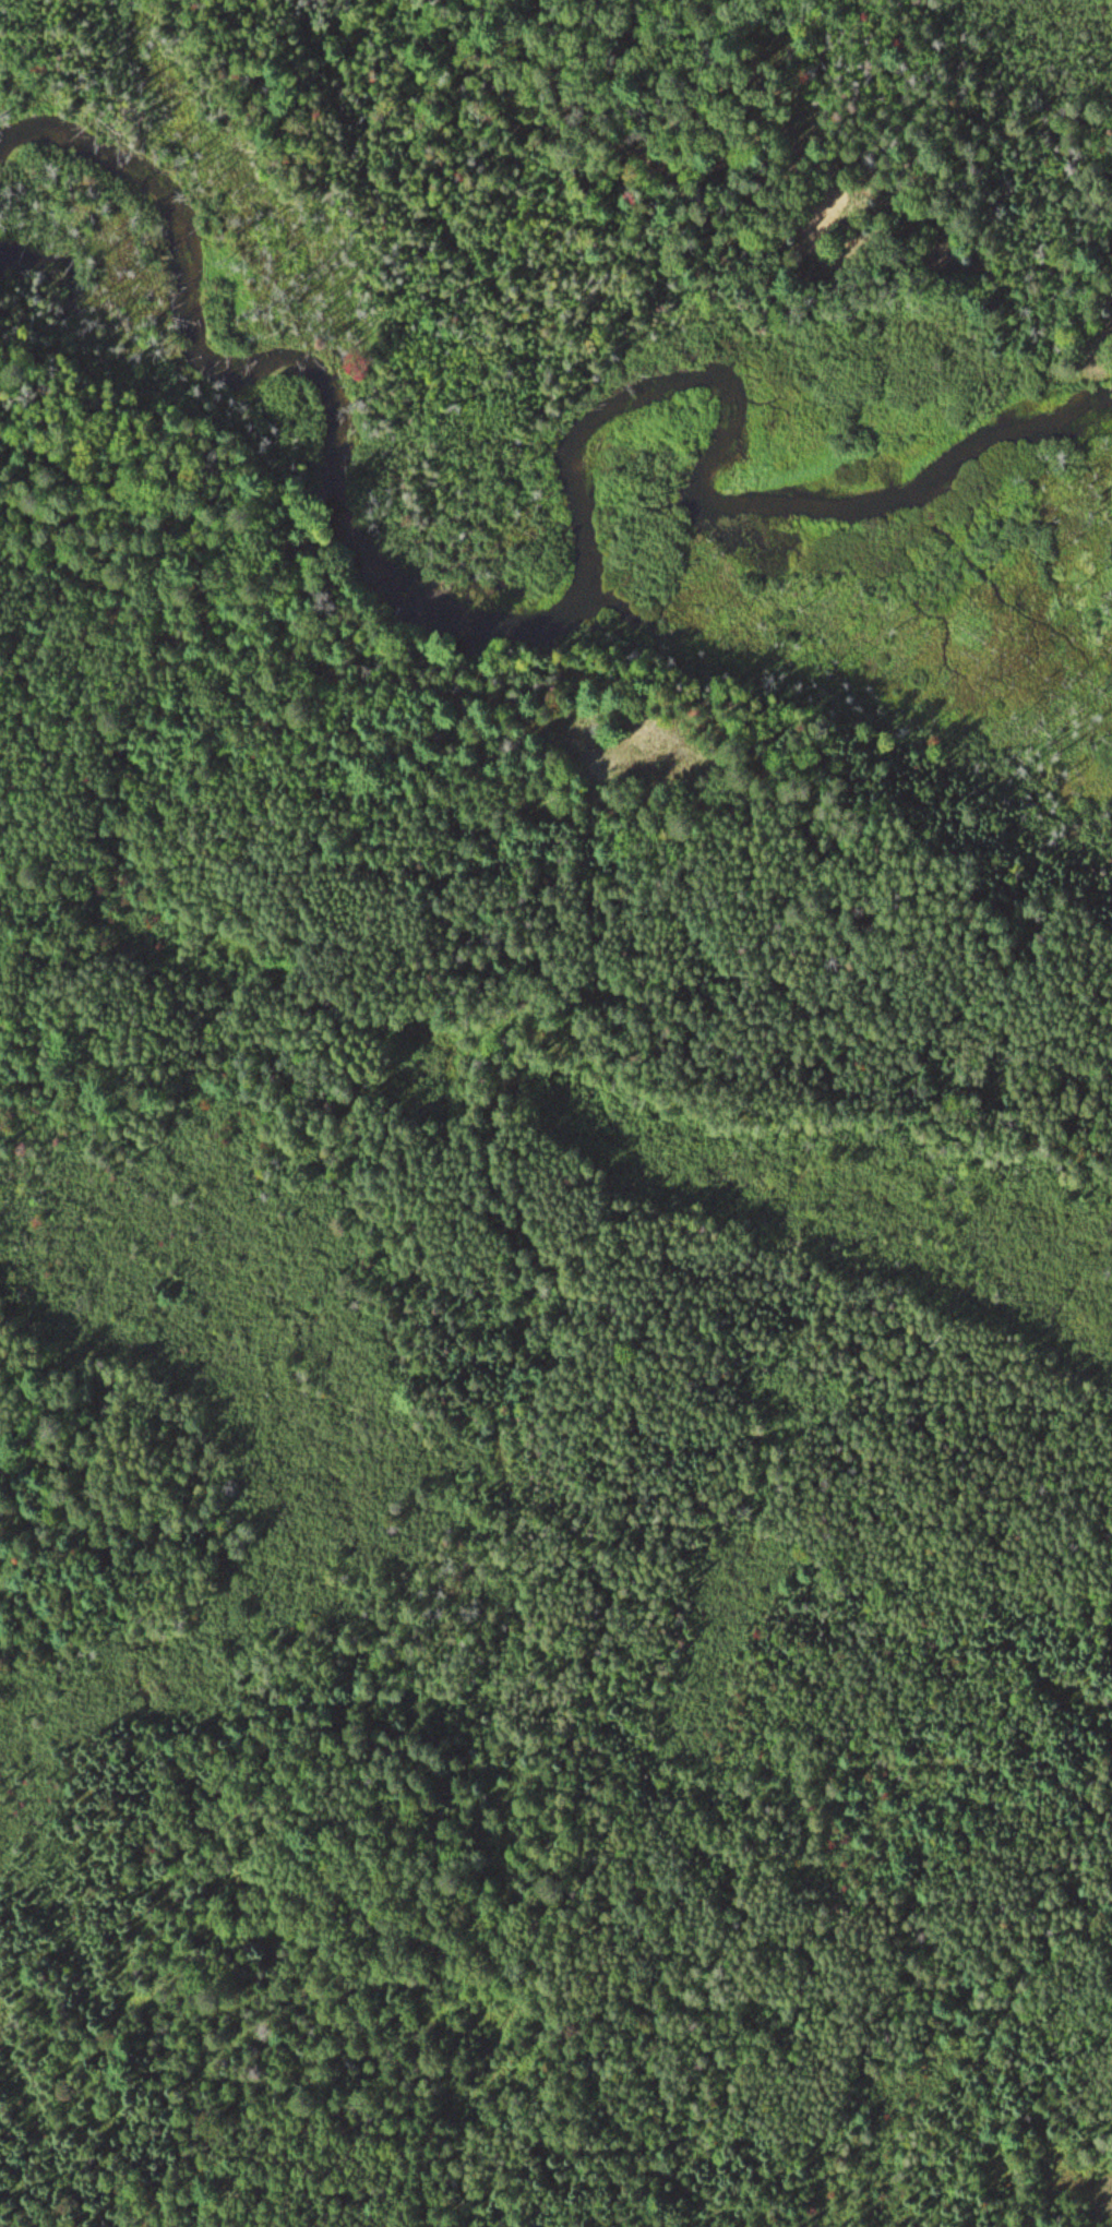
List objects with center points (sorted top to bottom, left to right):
road: (774, 254)
river: (578, 594)
road: (291, 1807)

